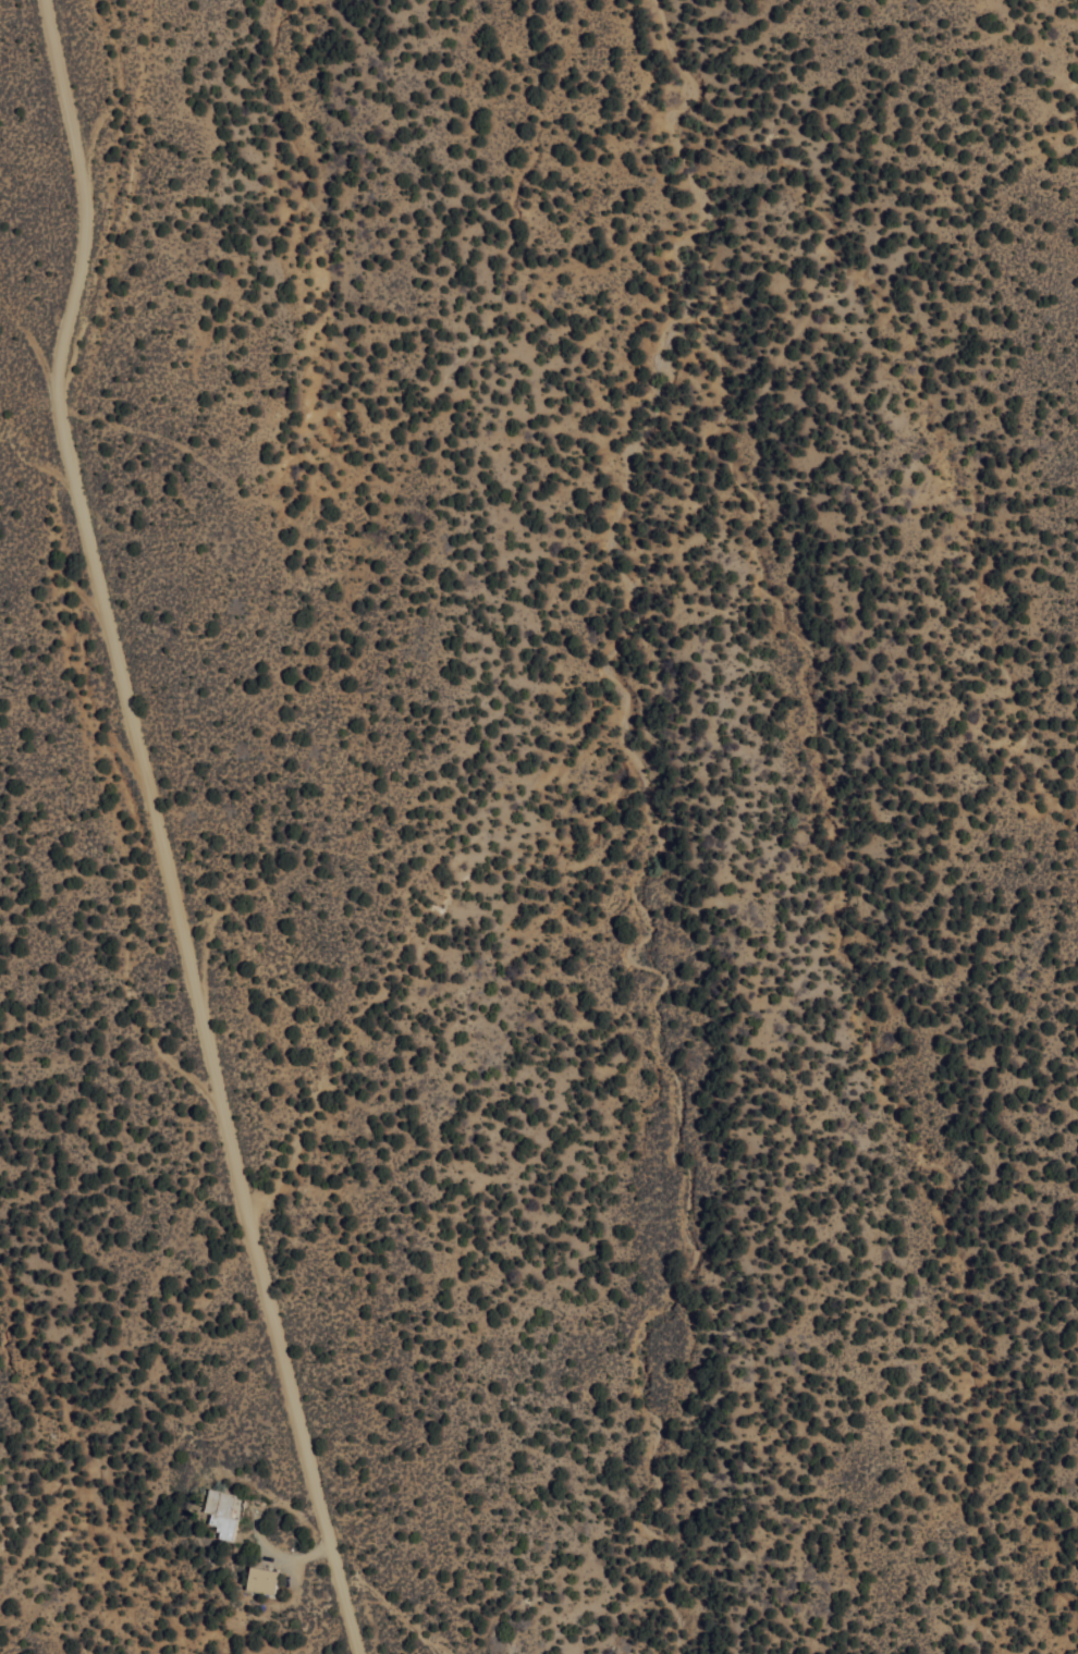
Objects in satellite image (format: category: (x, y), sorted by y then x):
road: (150, 830)
building: (221, 1511)
building: (260, 1579)

